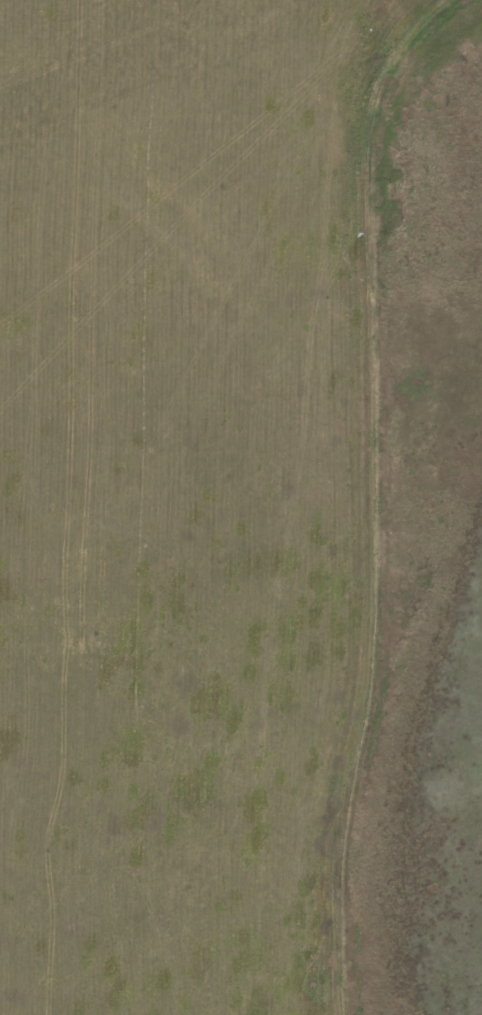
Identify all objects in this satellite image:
road: (305, 235)

